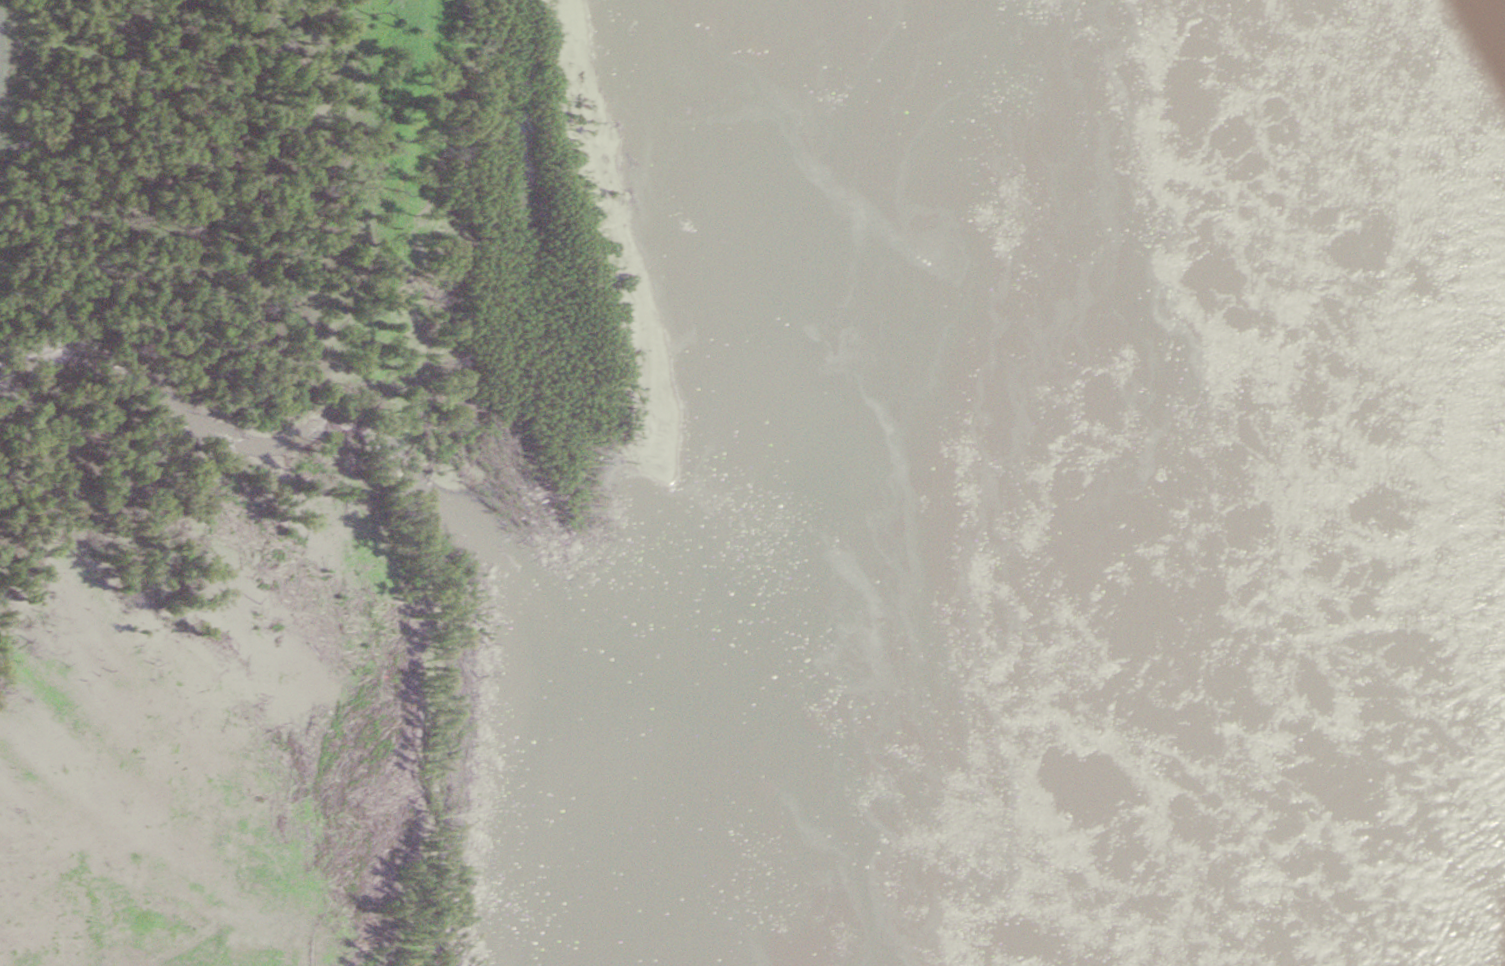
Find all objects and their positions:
river: (1228, 483)

